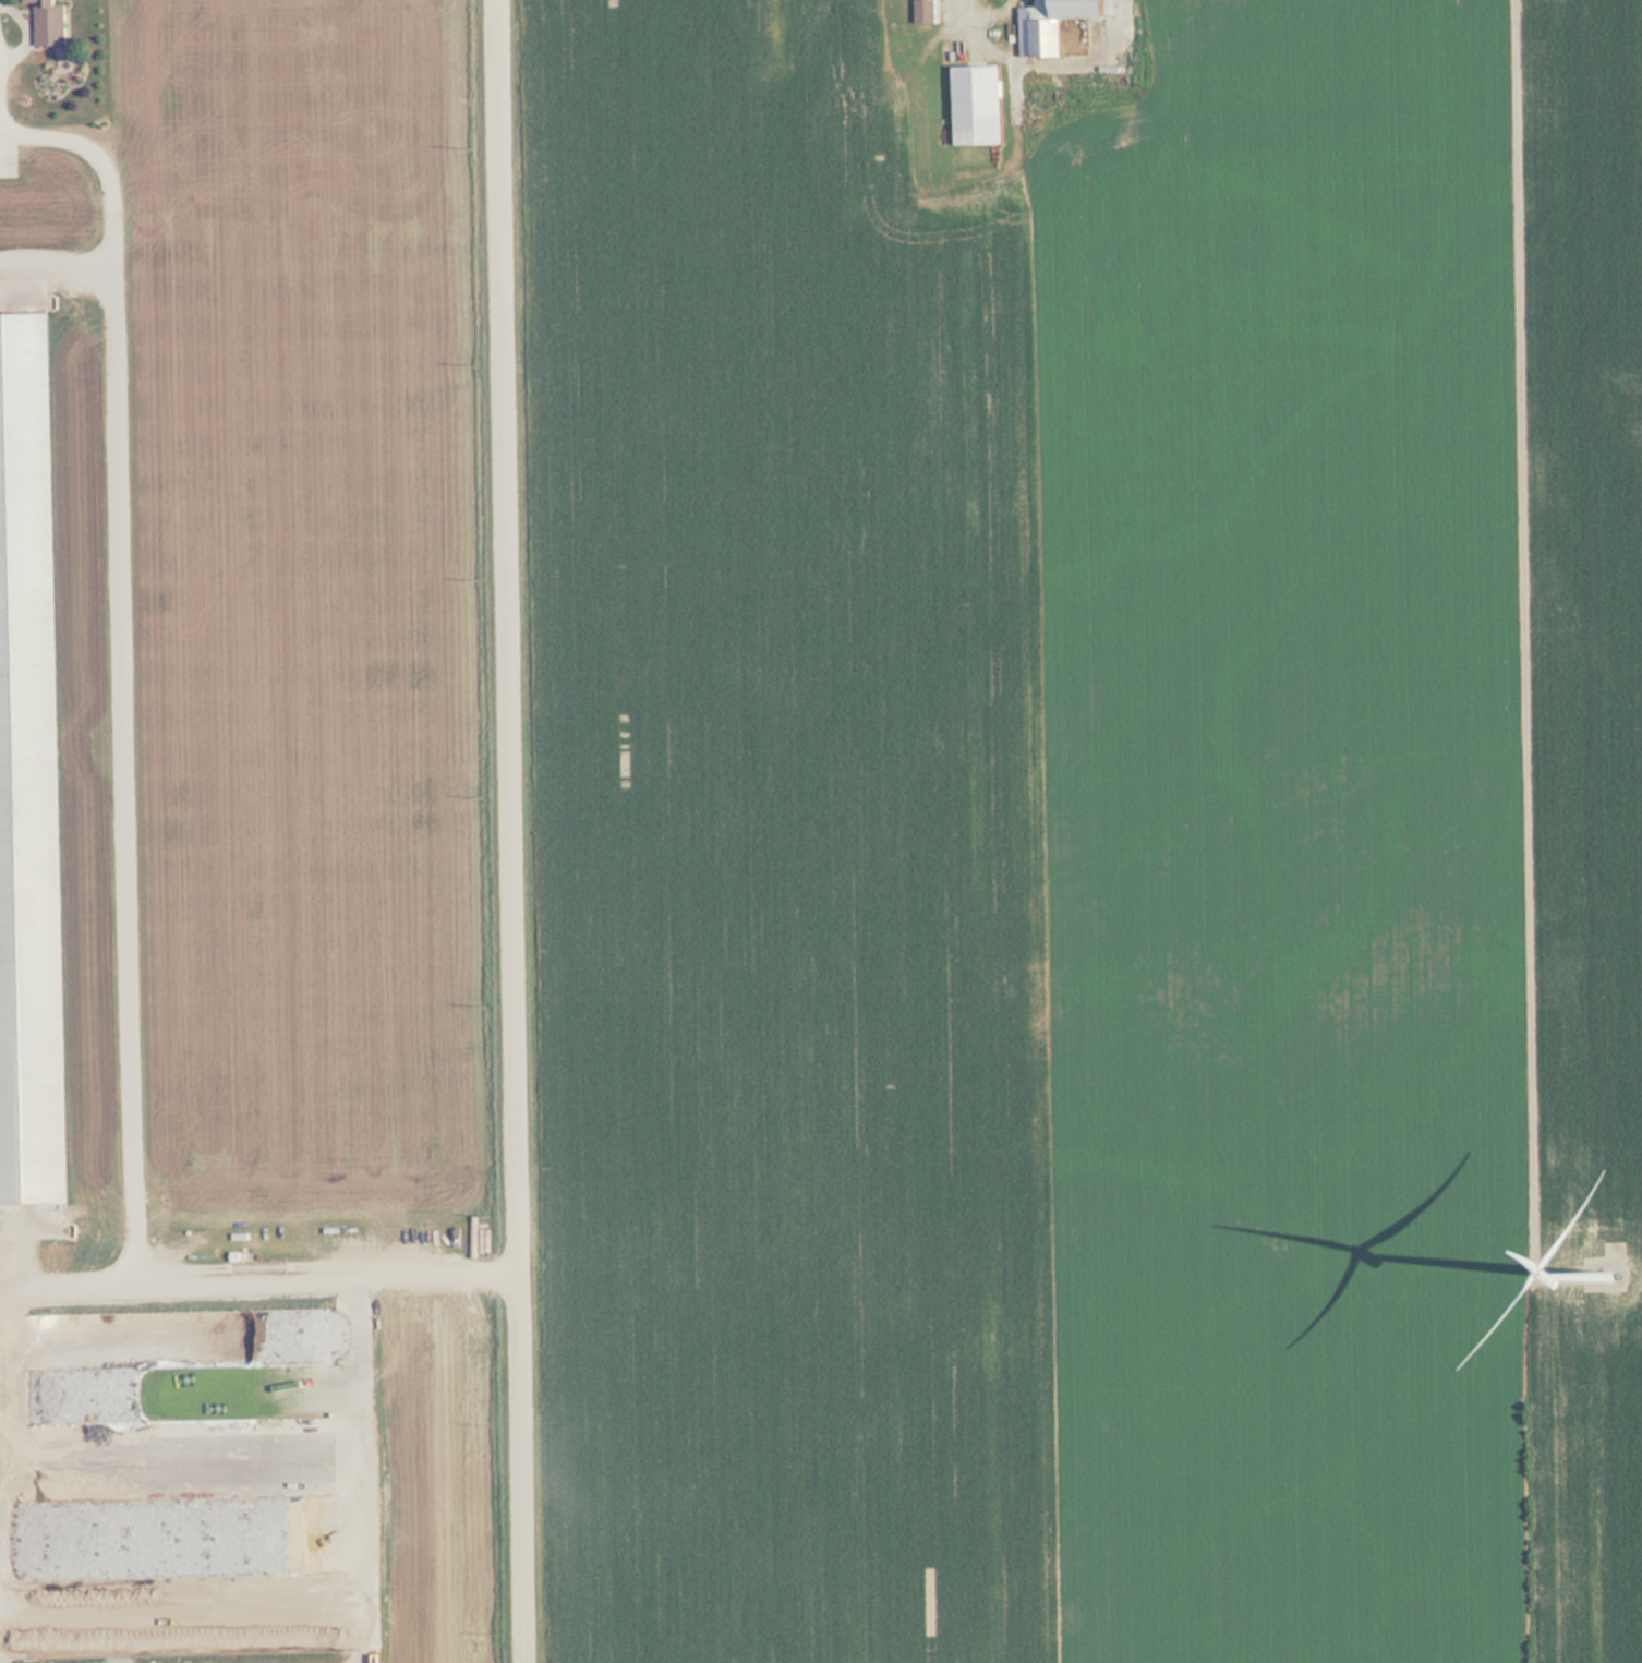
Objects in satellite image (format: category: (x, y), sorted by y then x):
building: (927, 11)
building: (51, 23)
building: (1057, 23)
building: (980, 104)
road: (1520, 644)
building: (31, 779)
road: (520, 831)
wind turbine: (1603, 1256)
building: (81, 1381)

